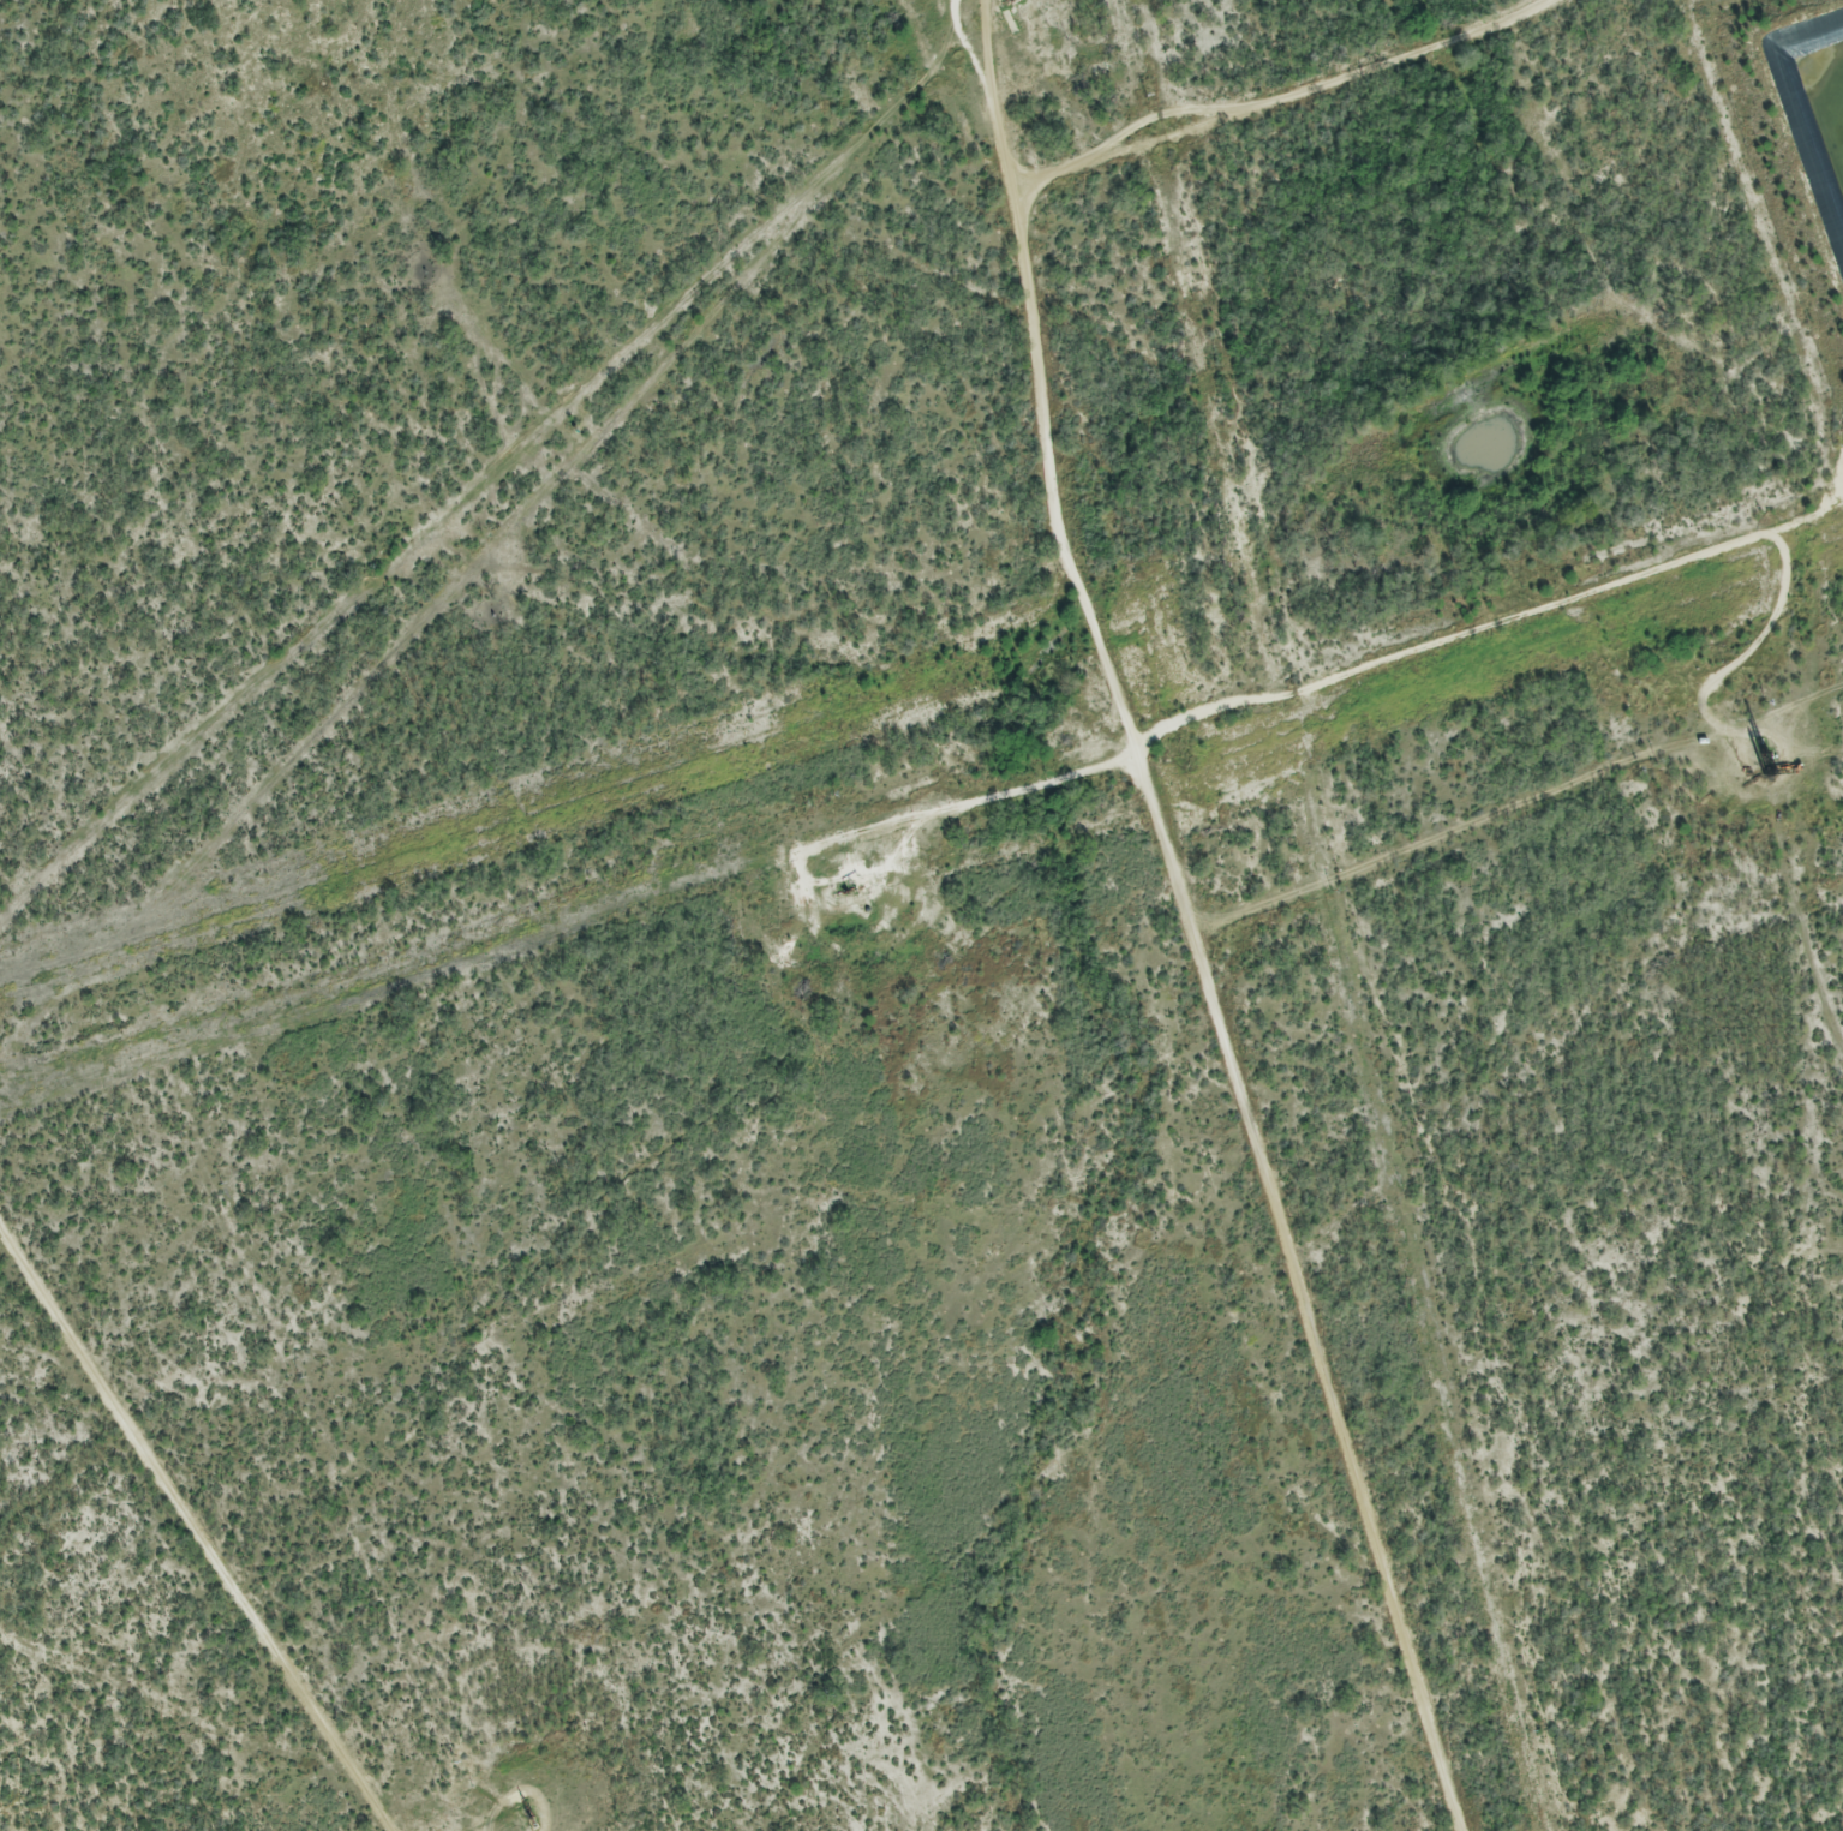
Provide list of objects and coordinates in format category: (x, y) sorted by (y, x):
road: (192, 1531)

